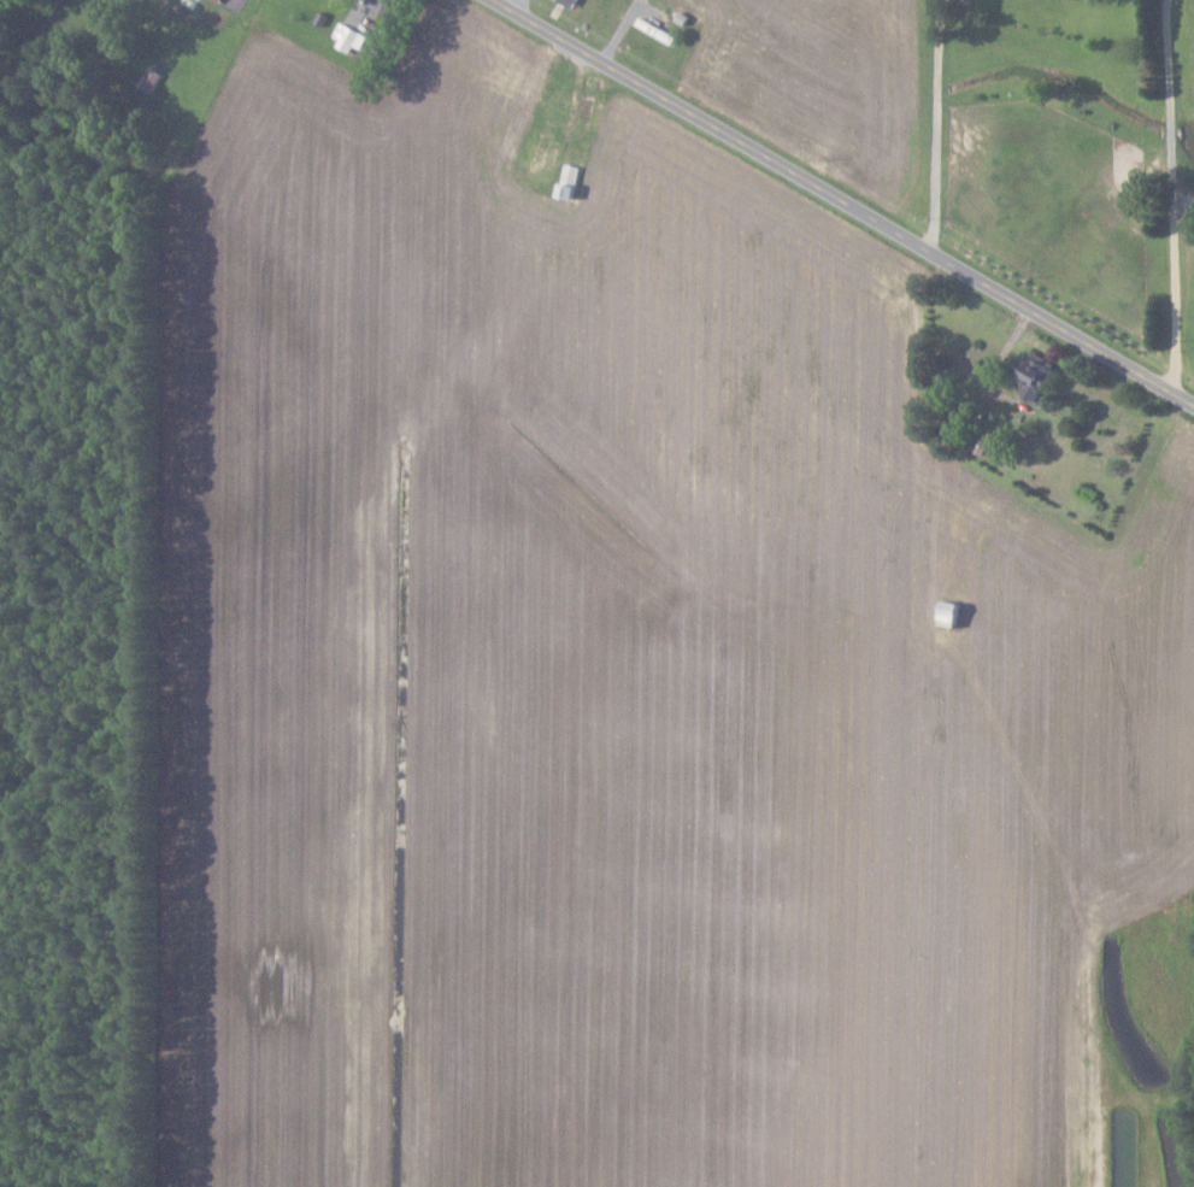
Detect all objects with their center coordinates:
building: (219, 0)
building: (574, 1)
building: (389, 7)
building: (349, 37)
road: (936, 122)
road: (1174, 194)
road: (854, 199)
building: (1037, 375)
building: (953, 613)

